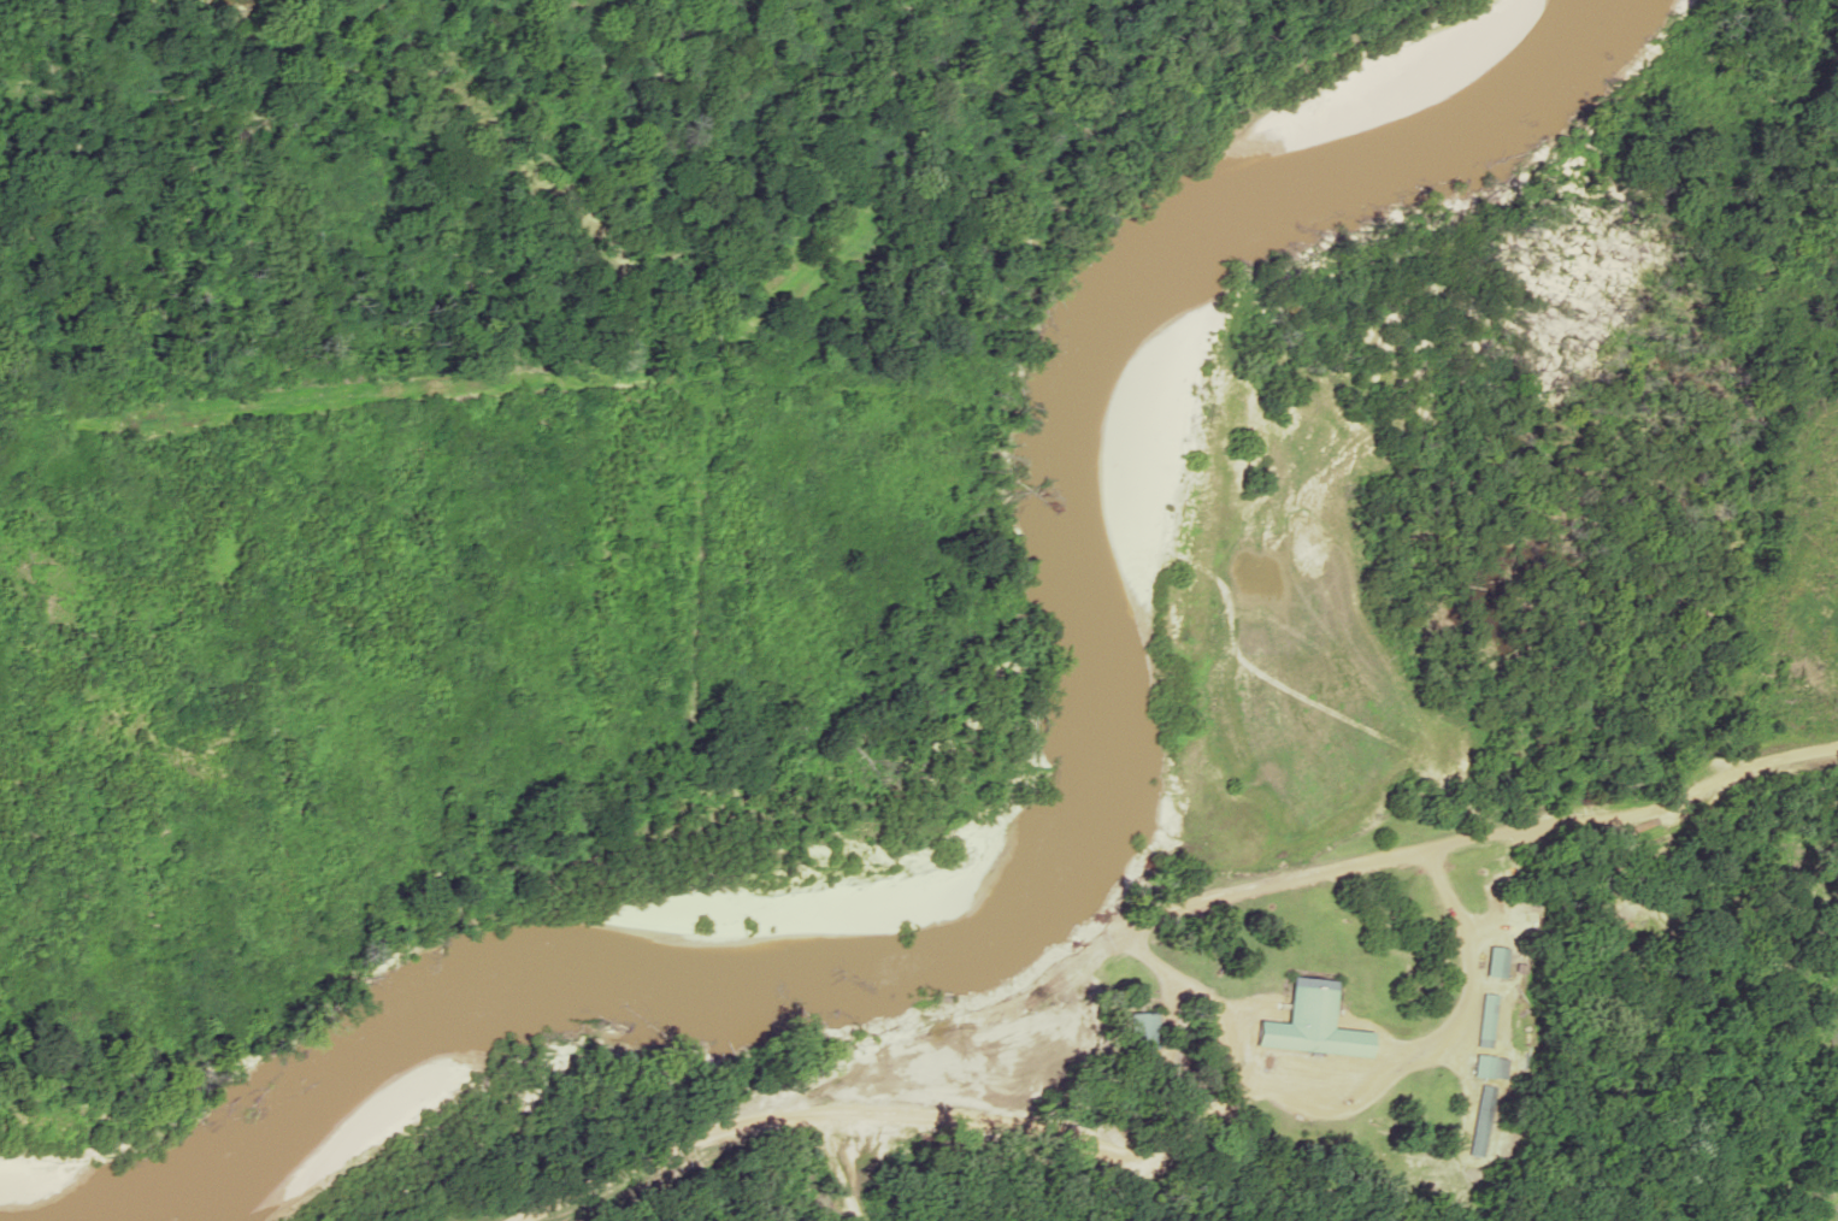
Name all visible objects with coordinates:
river: (990, 839)
building: (1494, 962)
building: (1485, 1020)
building: (1310, 1024)
building: (1142, 1031)
building: (1489, 1067)
building: (1481, 1121)

